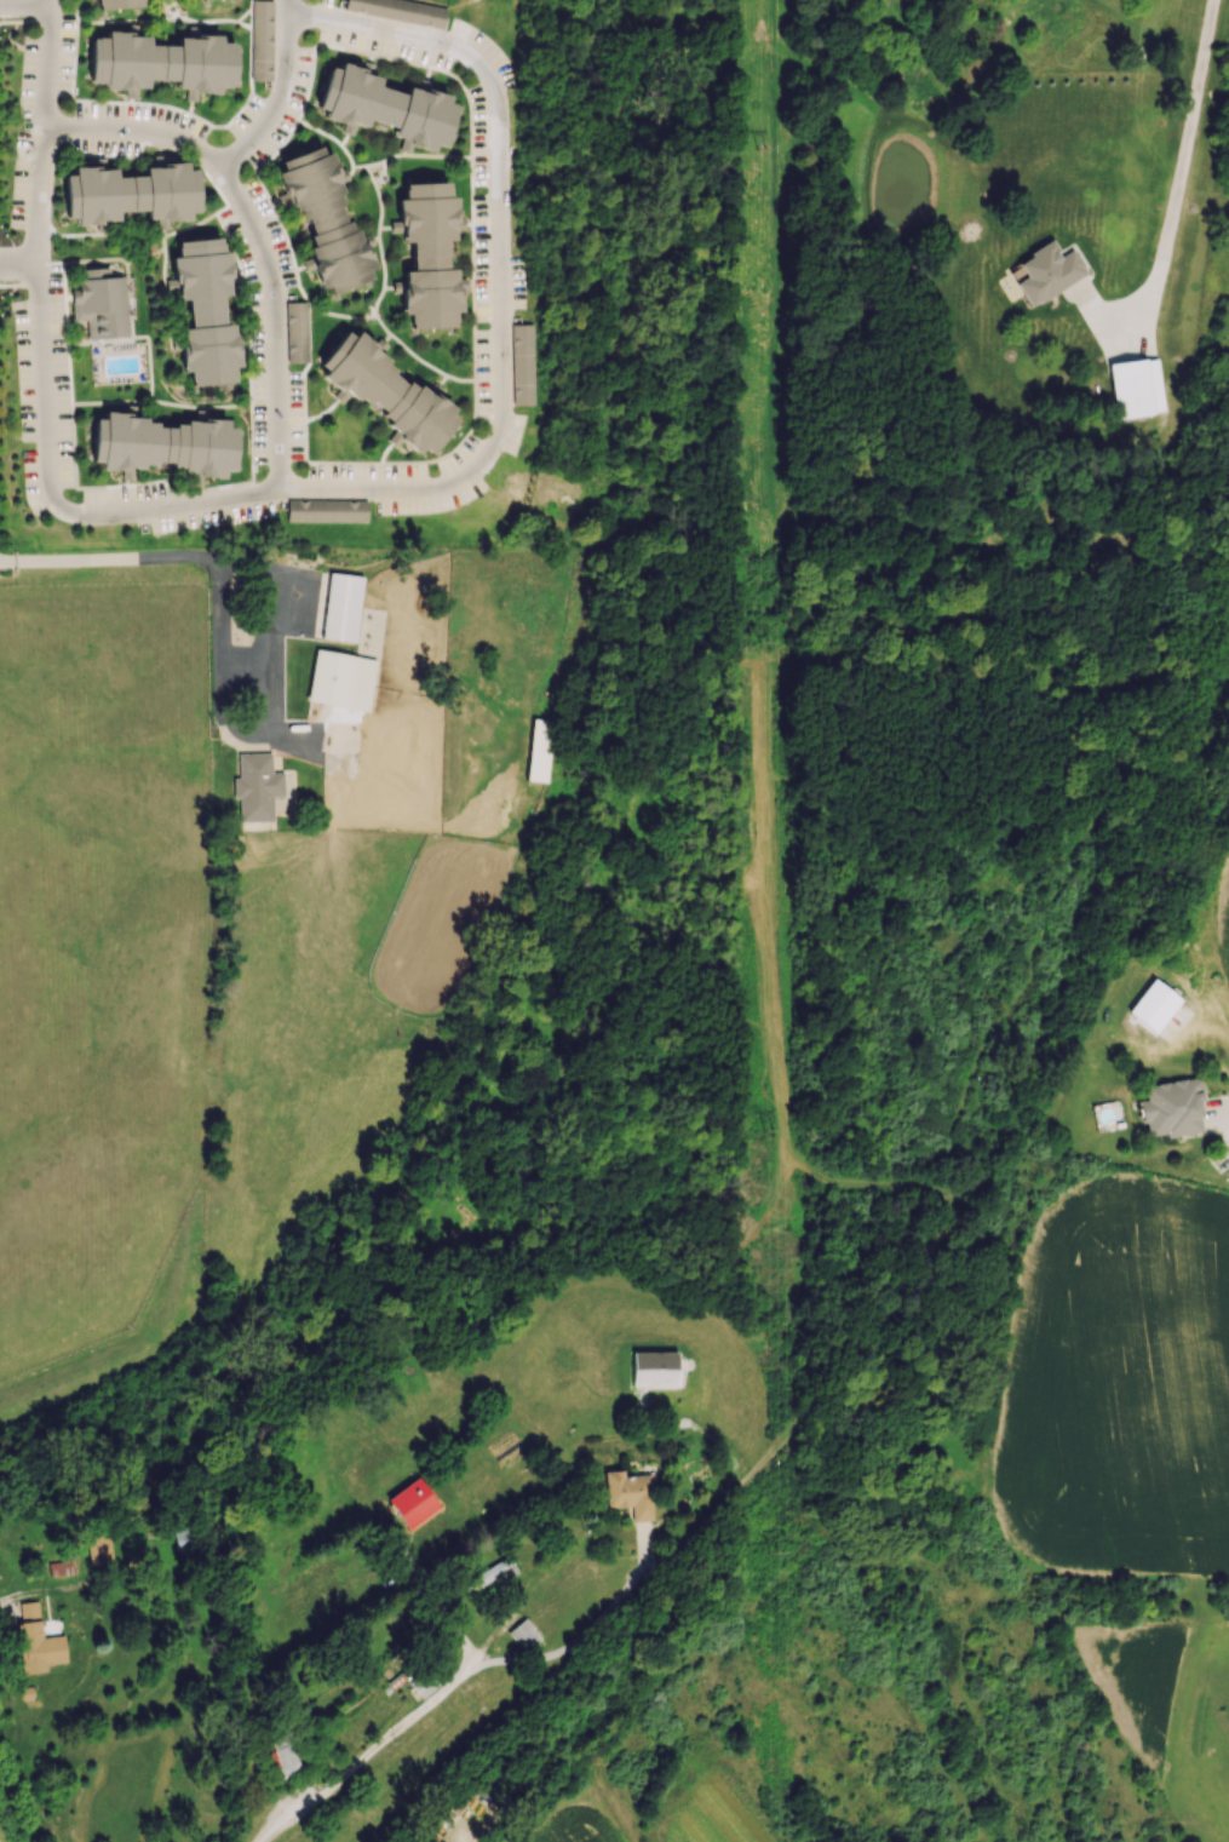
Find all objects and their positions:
building: (116, 4)
road: (23, 6)
building: (400, 11)
road: (170, 17)
road: (381, 29)
building: (260, 40)
building: (161, 63)
road: (276, 91)
building: (385, 108)
road: (134, 130)
power tower: (770, 149)
road: (1183, 154)
building: (130, 193)
building: (323, 220)
road: (34, 251)
building: (426, 254)
road: (499, 269)
road: (17, 270)
building: (1047, 272)
building: (99, 303)
building: (203, 311)
road: (269, 321)
building: (295, 332)
building: (522, 363)
building: (1136, 388)
building: (385, 392)
building: (162, 444)
road: (259, 490)
building: (326, 510)
road: (248, 563)
building: (340, 607)
power tower: (773, 642)
building: (341, 678)
building: (539, 750)
building: (257, 786)
crop: (1213, 956)
building: (1152, 1005)
building: (1171, 1108)
power tower: (781, 1124)
road: (1225, 1130)
building: (653, 1367)
building: (628, 1492)
building: (412, 1503)
building: (190, 1537)
building: (99, 1548)
power tower: (781, 1553)
building: (61, 1567)
building: (489, 1574)
road: (16, 1606)
road: (438, 1608)
road: (587, 1631)
building: (523, 1634)
building: (36, 1640)
building: (283, 1752)
road: (369, 1752)
crop: (576, 1821)

